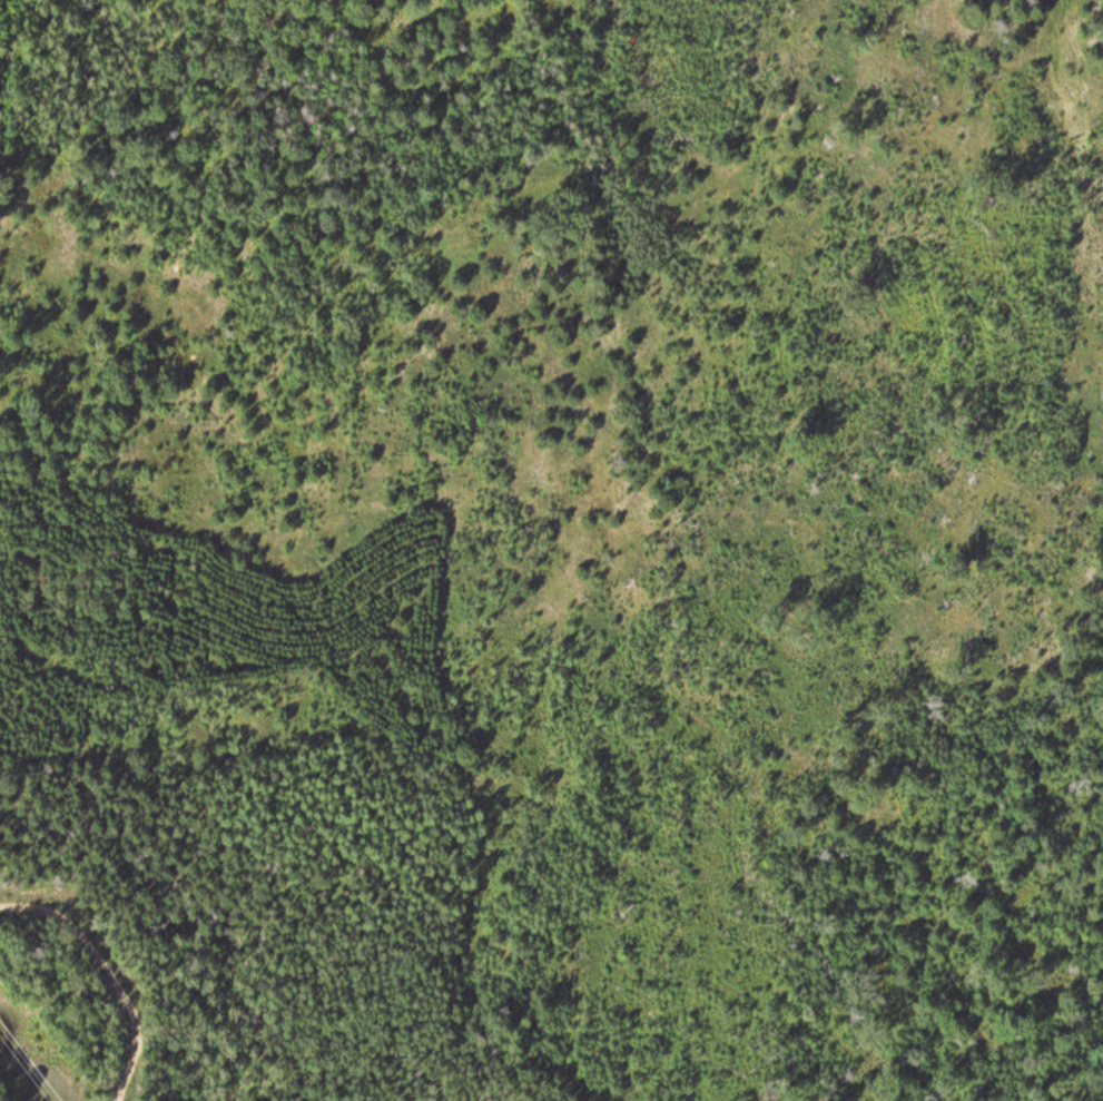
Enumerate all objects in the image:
road: (110, 970)

